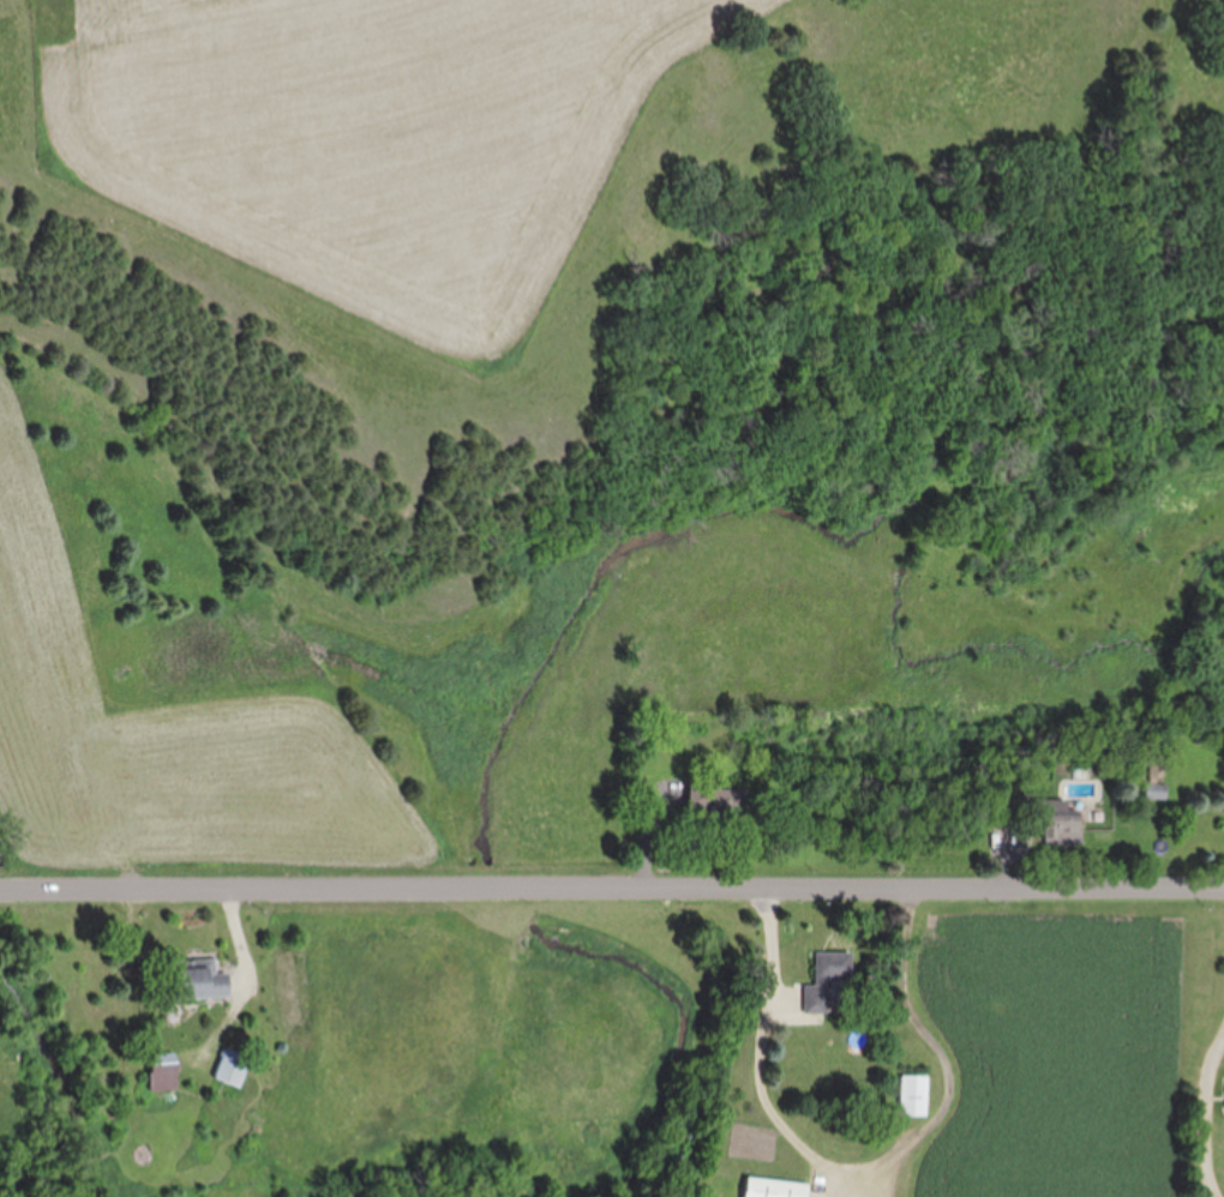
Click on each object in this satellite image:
building: (1156, 790)
building: (1058, 822)
road: (611, 889)
building: (826, 979)
building: (197, 980)
road: (179, 993)
building: (232, 1067)
building: (163, 1072)
building: (914, 1095)
road: (864, 1163)
building: (775, 1189)

